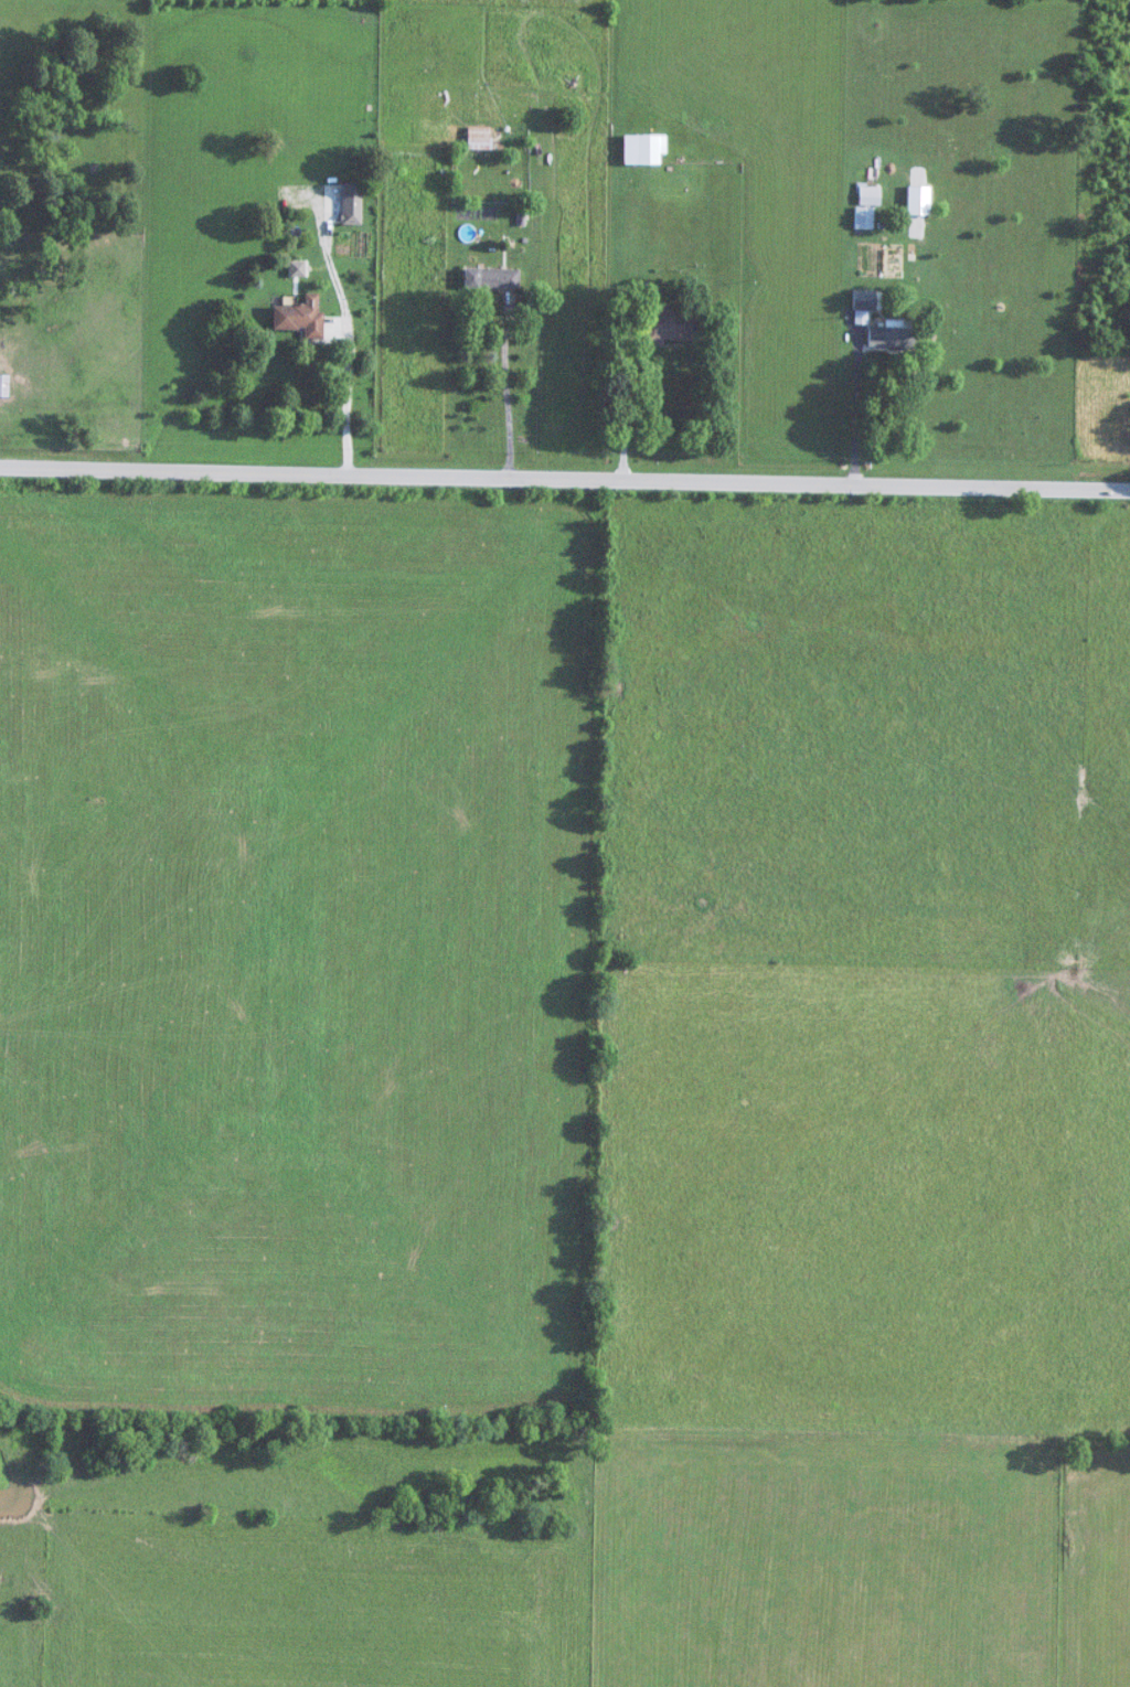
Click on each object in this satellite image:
building: (481, 138)
building: (644, 149)
building: (866, 193)
building: (353, 204)
building: (861, 217)
building: (493, 278)
building: (863, 299)
building: (302, 317)
building: (674, 325)
building: (888, 337)
building: (4, 385)
road: (507, 387)
road: (344, 388)
road: (620, 403)
road: (855, 406)
road: (565, 473)
crop: (299, 951)

